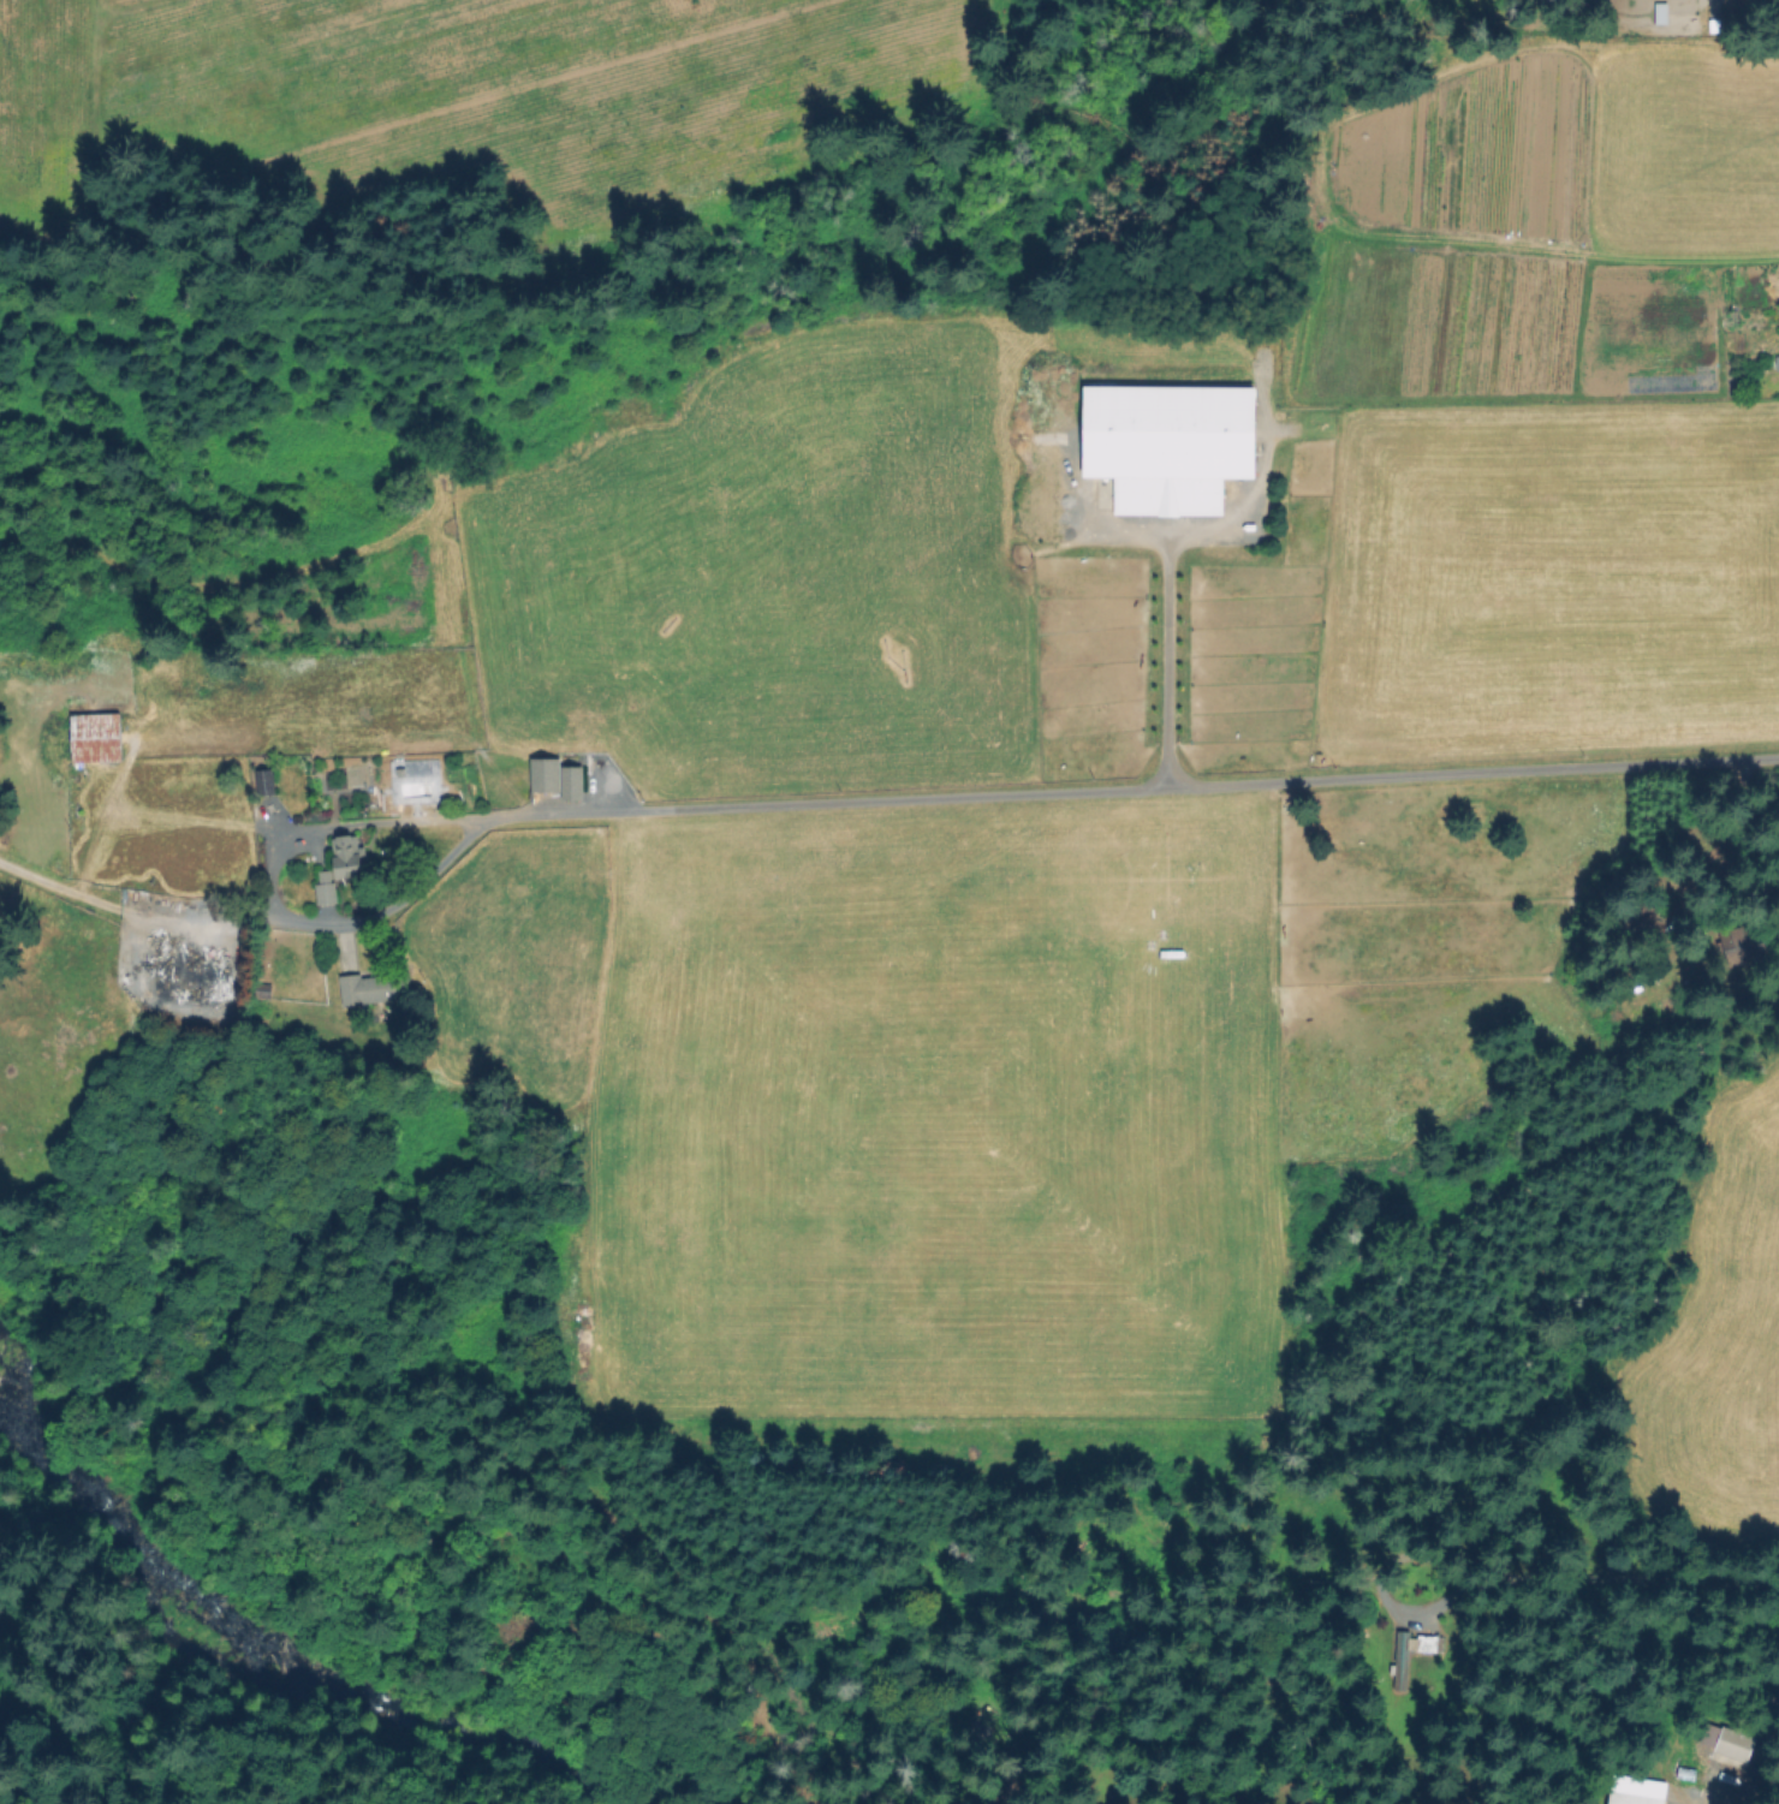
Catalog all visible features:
building: (1661, 13)
crop: (440, 89)
crop: (1559, 385)
building: (1170, 445)
road: (1158, 656)
building: (97, 738)
building: (558, 778)
building: (266, 782)
road: (1129, 786)
road: (1723, 836)
building: (349, 856)
building: (327, 888)
crop: (941, 893)
road: (270, 897)
building: (1641, 916)
building: (1742, 943)
building: (192, 977)
building: (374, 988)
building: (263, 989)
crop: (1710, 1350)
building: (1409, 1655)
building: (1774, 1692)
building: (1729, 1742)
building: (1631, 1799)

